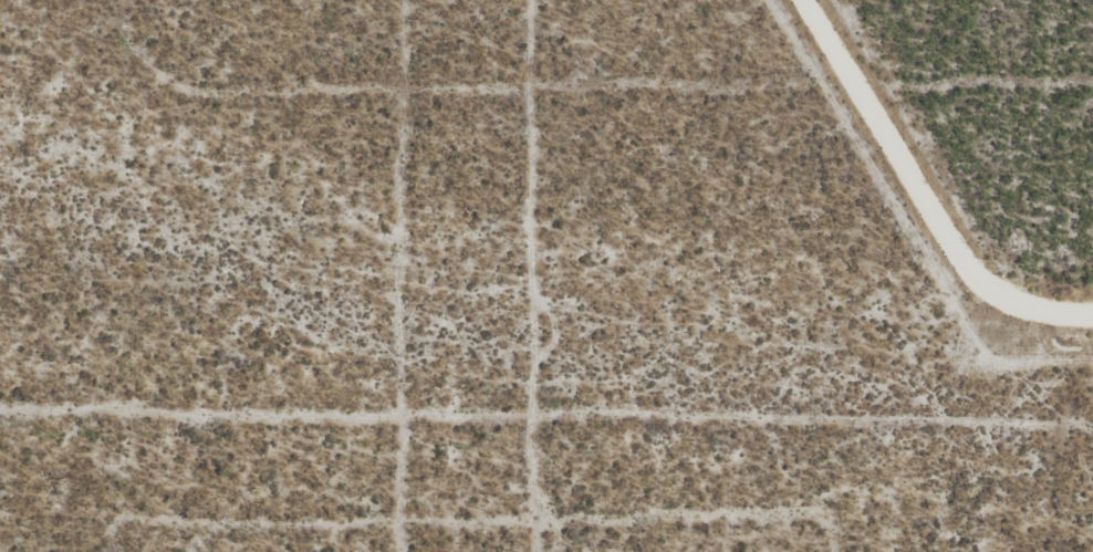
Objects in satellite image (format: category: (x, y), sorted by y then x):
road: (919, 195)

